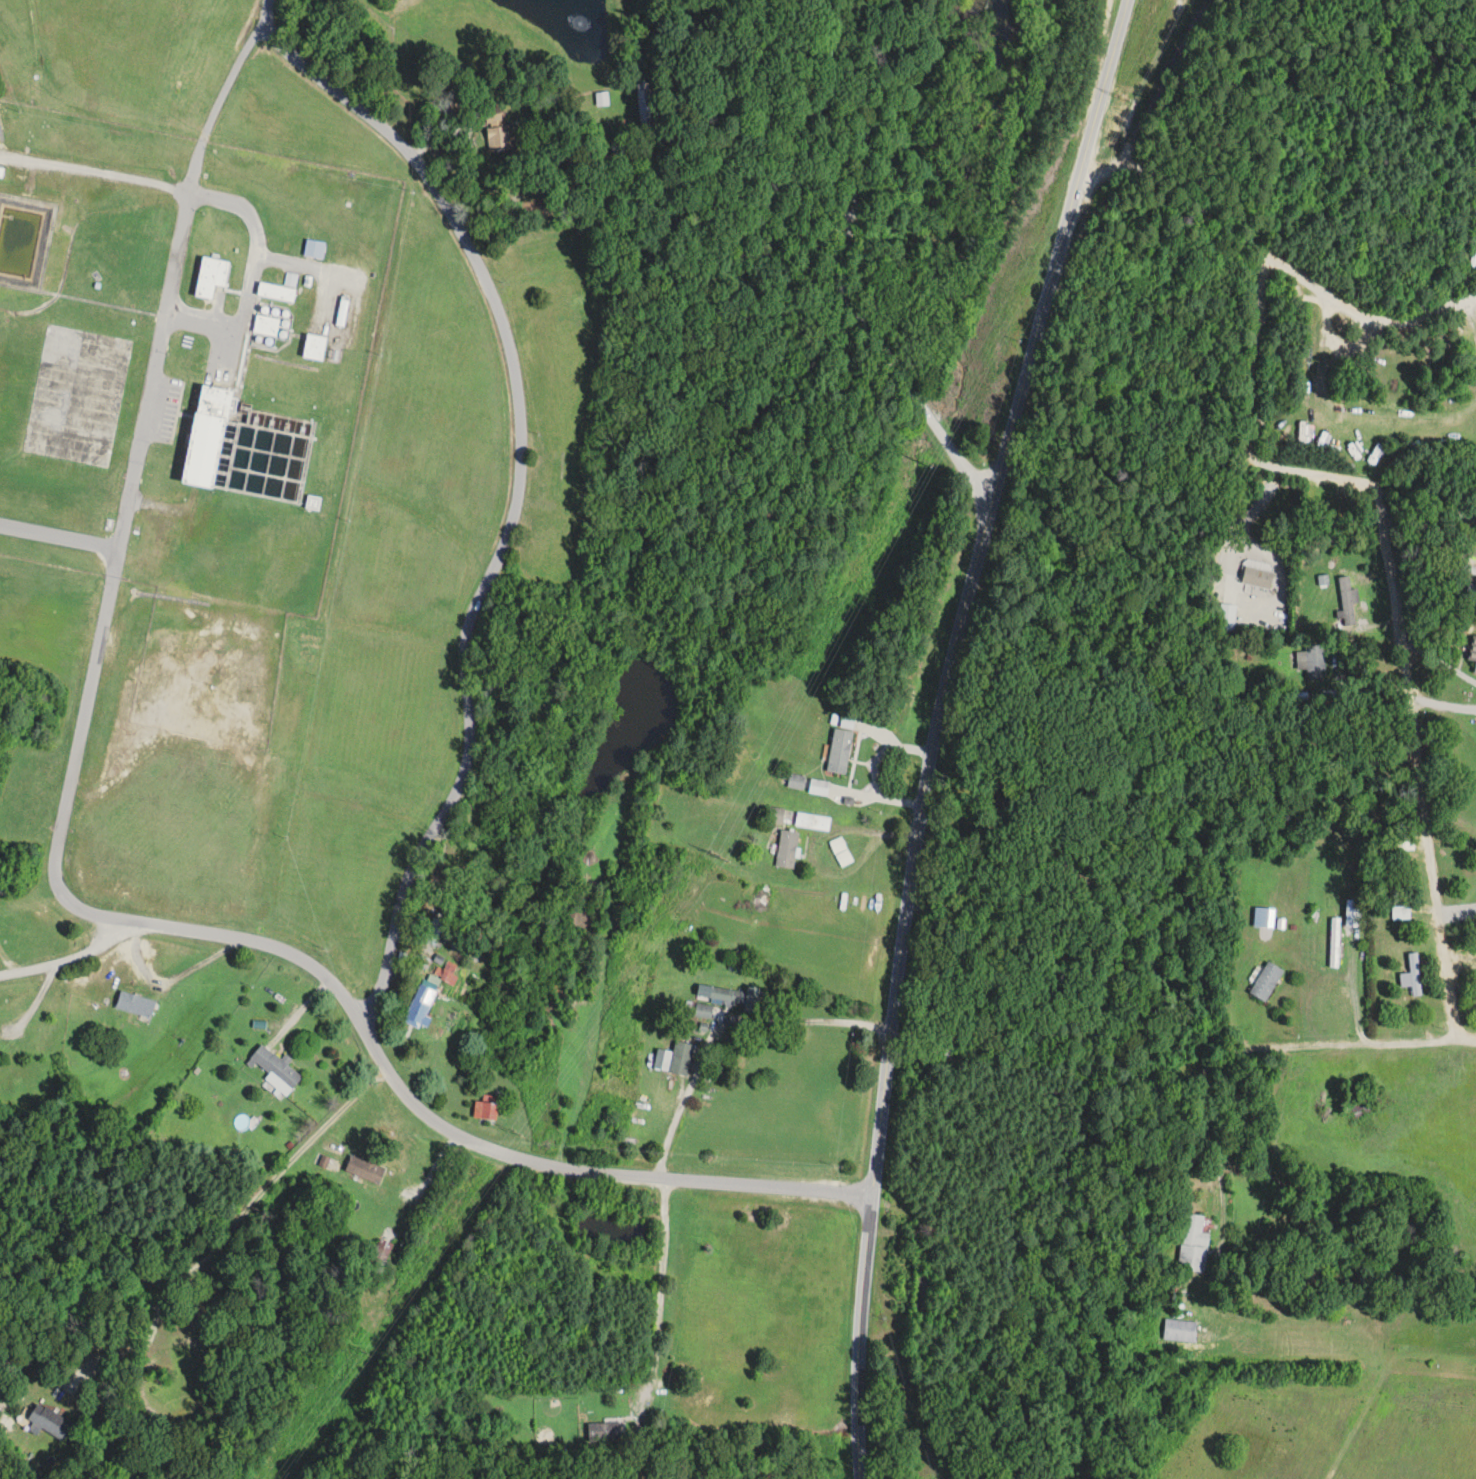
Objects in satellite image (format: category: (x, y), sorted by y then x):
road: (270, 13)
power tower: (1122, 98)
building: (646, 106)
building: (499, 130)
building: (20, 185)
road: (528, 195)
building: (314, 248)
road: (1270, 256)
road: (250, 267)
road: (838, 268)
building: (211, 277)
building: (276, 292)
road: (1475, 301)
building: (579, 302)
building: (343, 311)
building: (266, 325)
building: (315, 347)
park: (1121, 351)
building: (208, 437)
power tower: (925, 462)
road: (514, 480)
road: (137, 492)
building: (313, 504)
building: (1257, 577)
road: (1394, 597)
building: (1348, 599)
building: (1473, 650)
building: (1315, 661)
building: (1475, 670)
road: (936, 729)
building: (840, 750)
building: (796, 781)
building: (818, 787)
building: (1002, 811)
building: (776, 814)
building: (812, 821)
building: (1406, 843)
building: (787, 848)
building: (841, 851)
power tower: (718, 853)
building: (1400, 912)
building: (434, 929)
building: (1334, 942)
building: (421, 959)
building: (1412, 975)
road: (174, 976)
building: (1267, 981)
building: (738, 996)
building: (136, 1004)
building: (420, 1005)
building: (702, 1010)
road: (719, 1026)
road: (1237, 1056)
building: (681, 1057)
building: (276, 1069)
road: (409, 1086)
building: (488, 1106)
power tower: (516, 1131)
building: (365, 1169)
road: (229, 1231)
building: (1193, 1244)
building: (380, 1254)
road: (661, 1284)
building: (922, 1295)
building: (1180, 1331)
power tower: (362, 1352)
building: (48, 1421)
building: (604, 1432)

